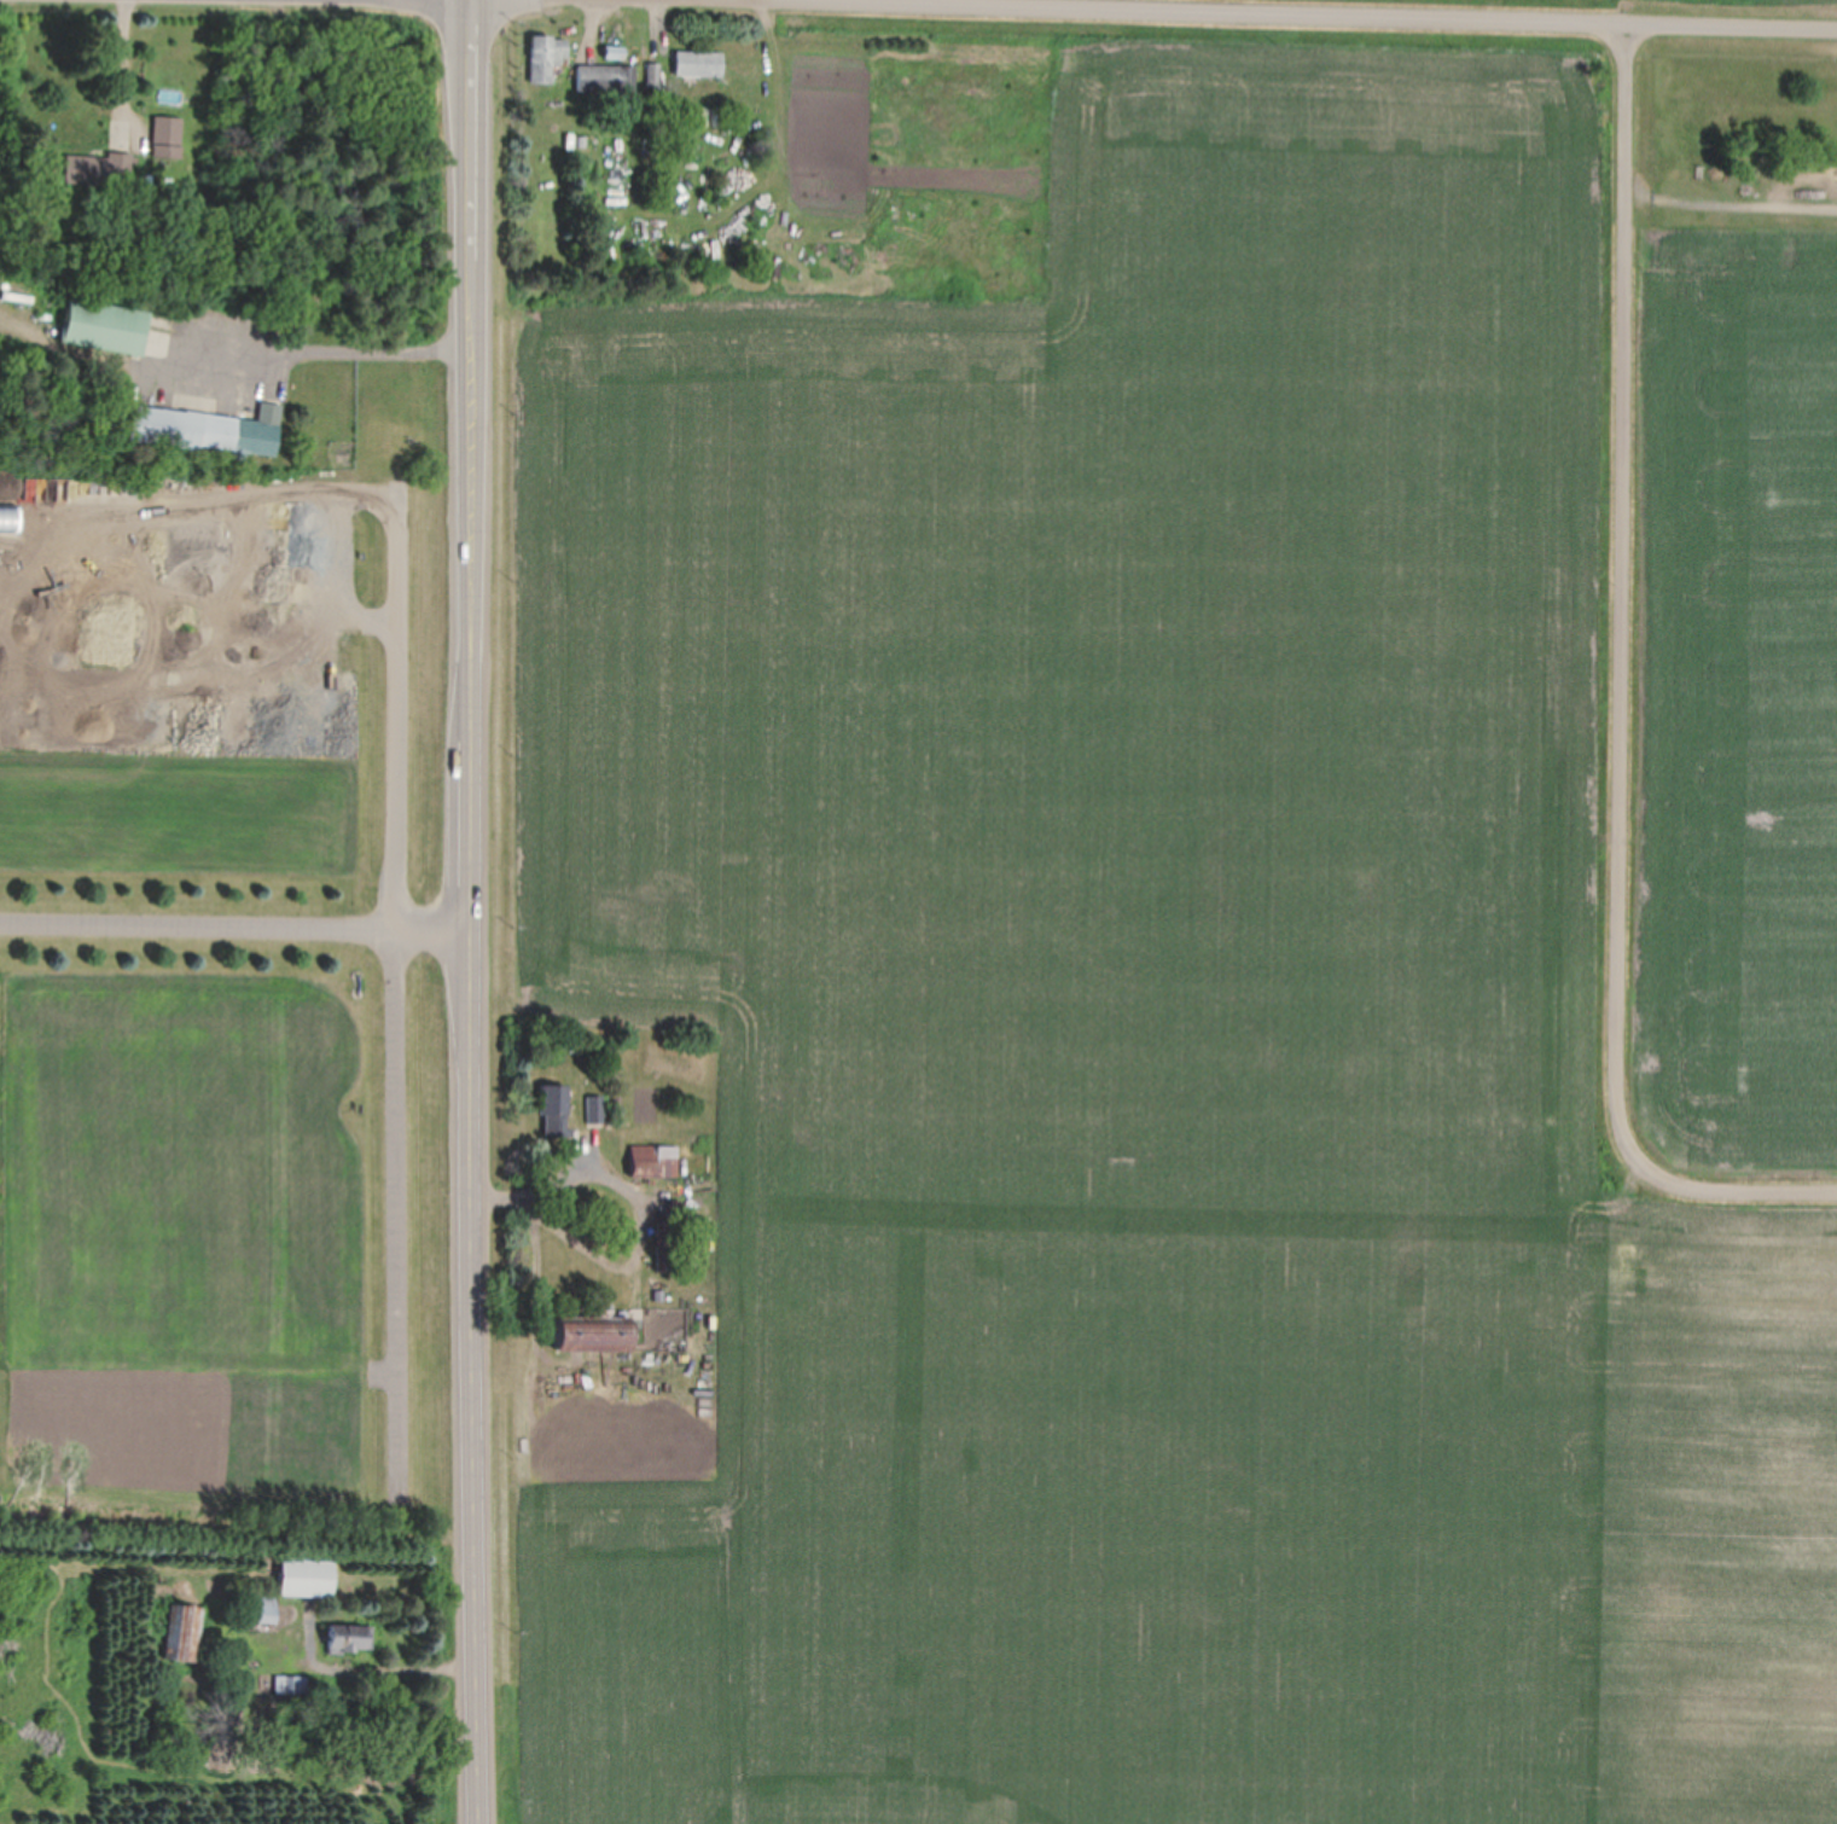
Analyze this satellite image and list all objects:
road: (1414, 12)
building: (547, 54)
building: (698, 62)
building: (814, 63)
building: (653, 72)
building: (609, 79)
building: (167, 135)
building: (97, 168)
building: (103, 325)
building: (208, 428)
road: (1627, 556)
road: (475, 912)
road: (237, 925)
road: (394, 992)
building: (553, 1109)
building: (594, 1109)
building: (655, 1161)
road: (1703, 1177)
building: (592, 1336)
building: (304, 1576)
building: (257, 1608)
building: (180, 1632)
building: (345, 1638)
building: (289, 1683)

